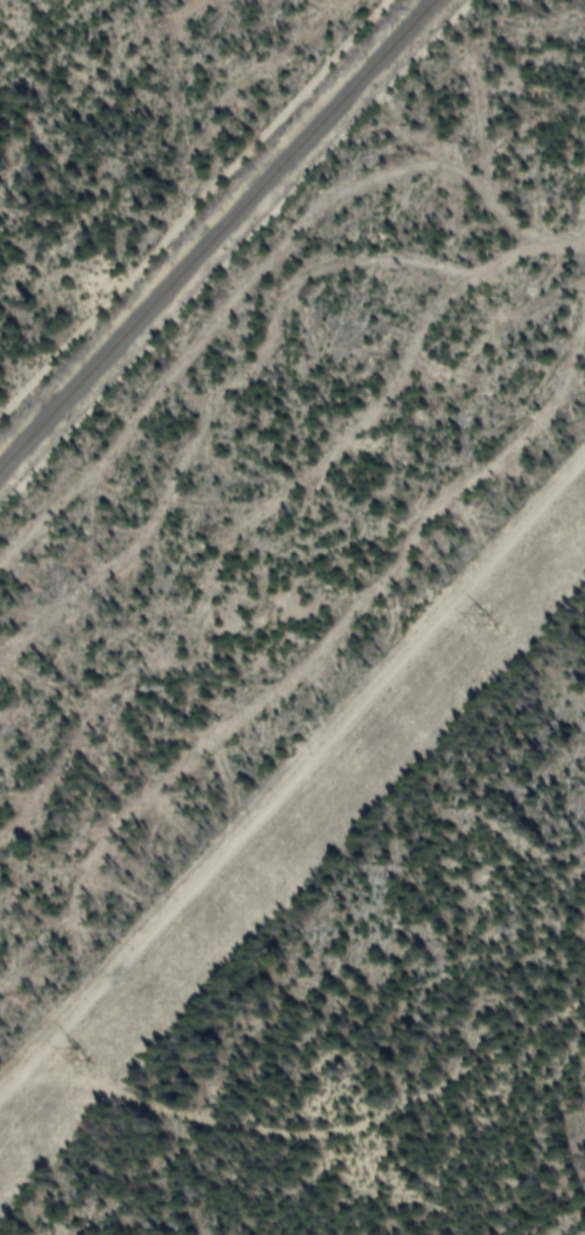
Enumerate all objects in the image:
road: (194, 211)
railway: (217, 234)
road: (291, 784)

